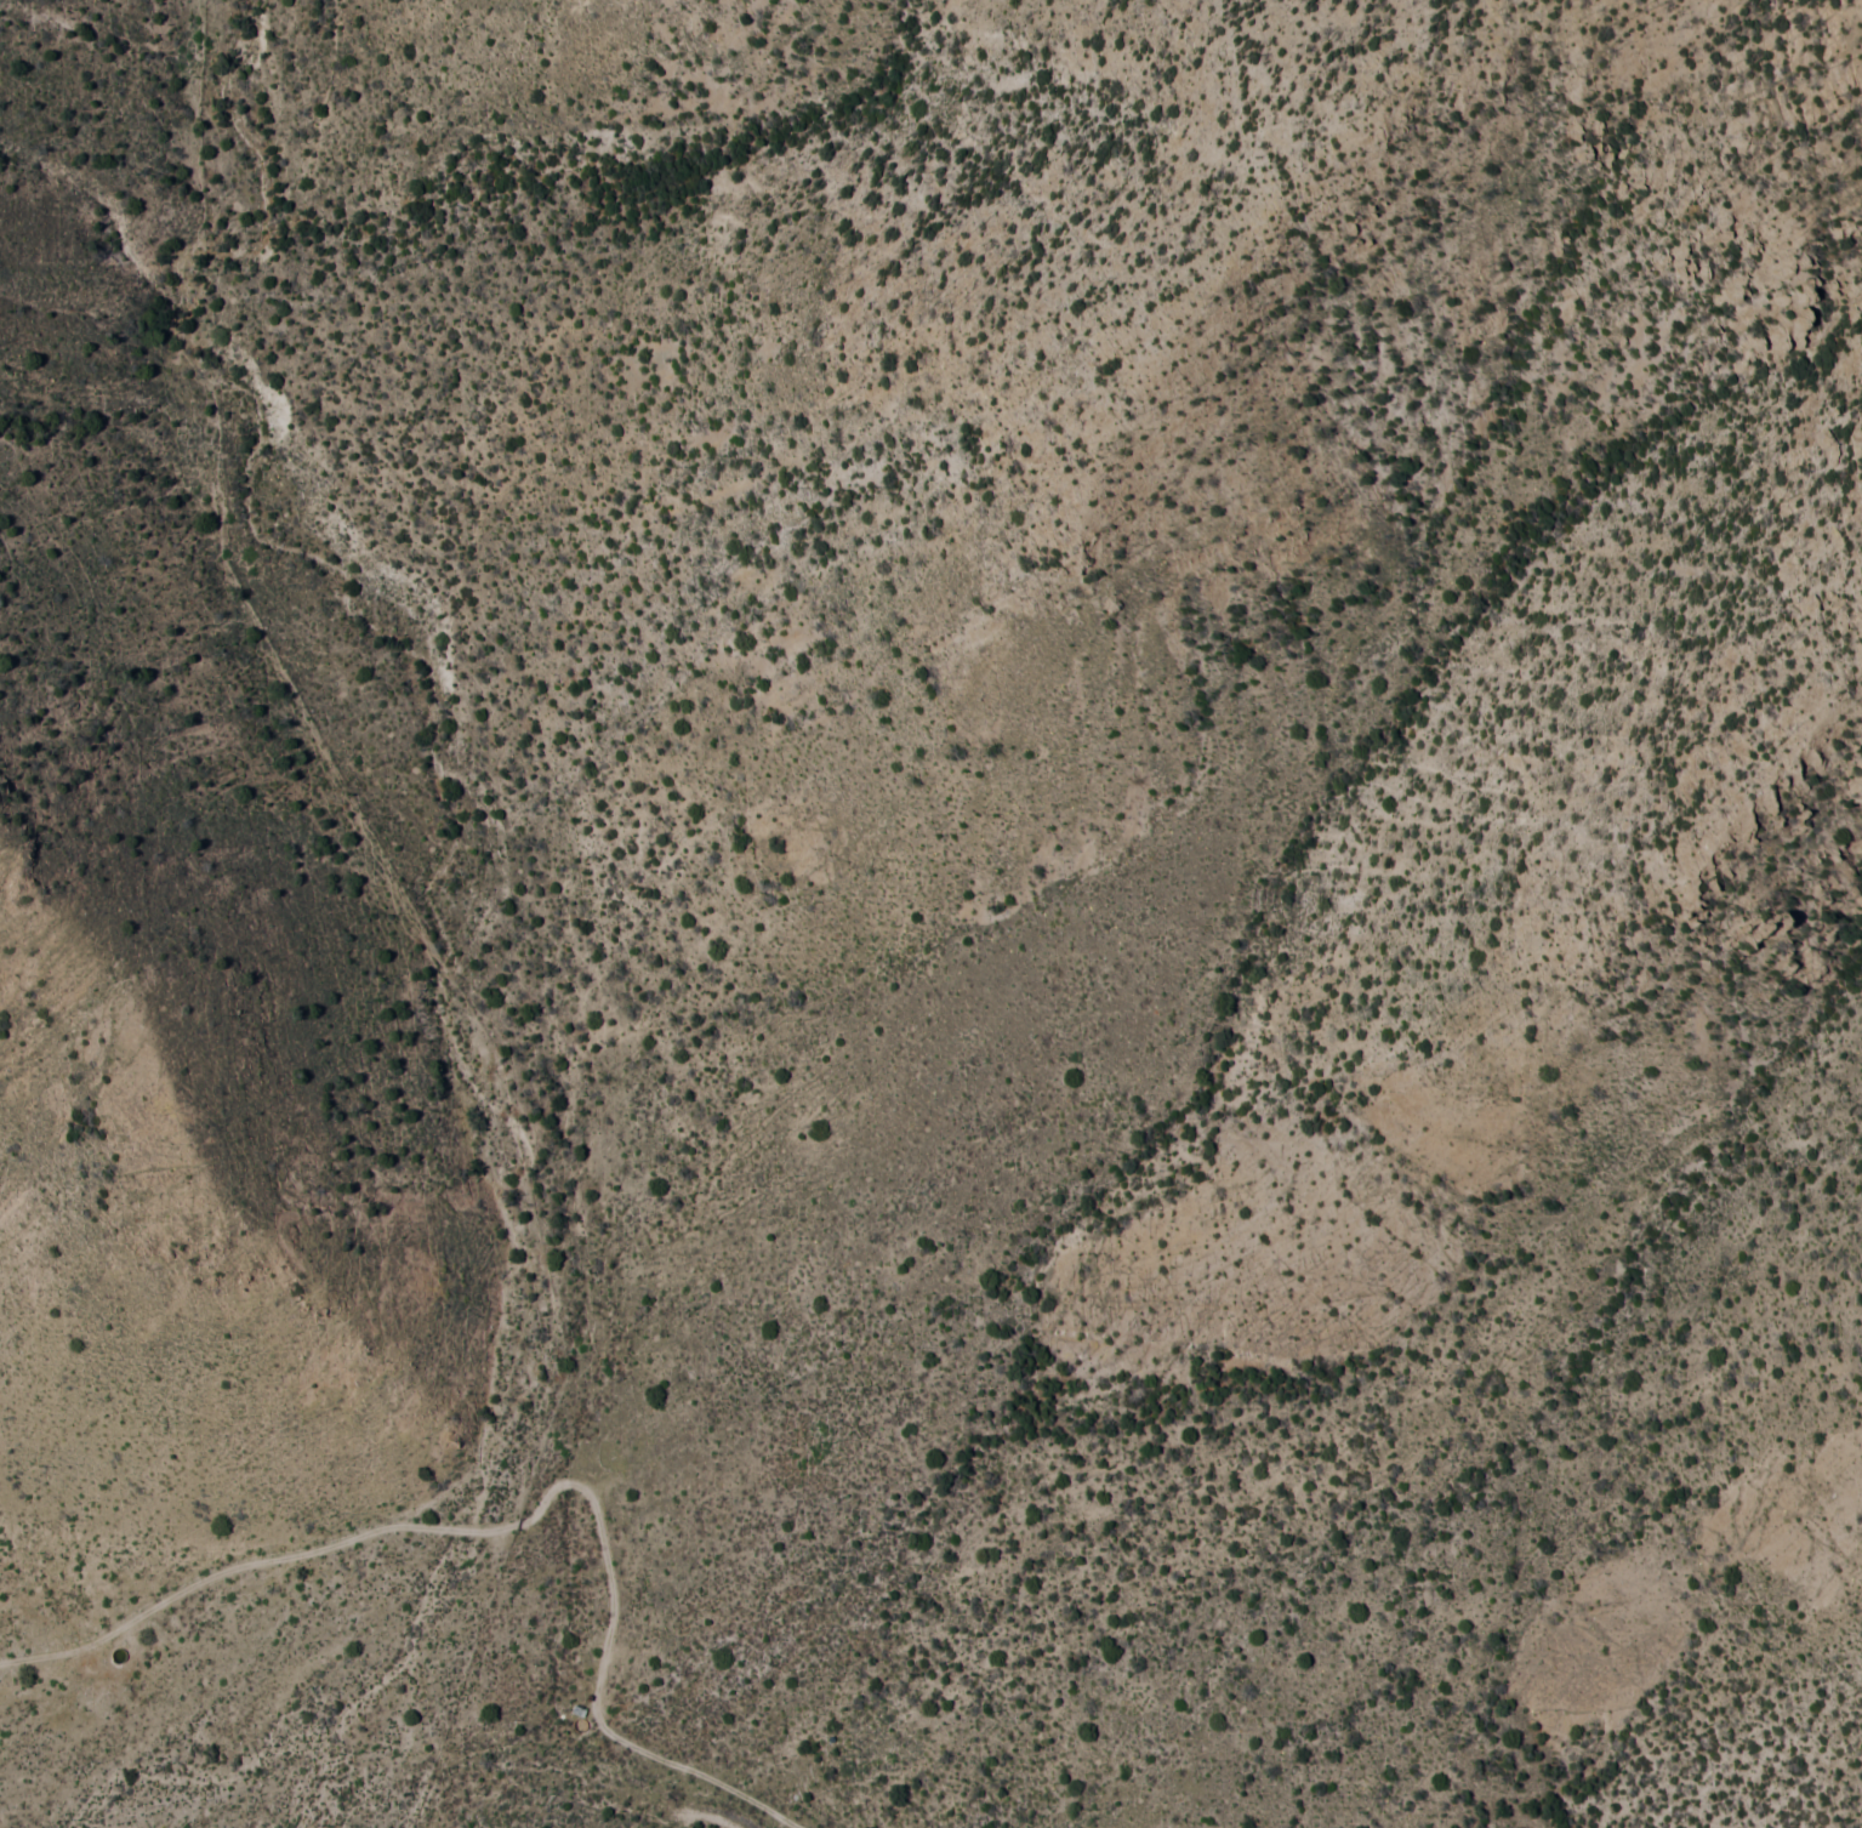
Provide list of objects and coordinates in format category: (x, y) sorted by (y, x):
helipad: (609, 1447)
road: (526, 1510)
road: (824, 1827)

